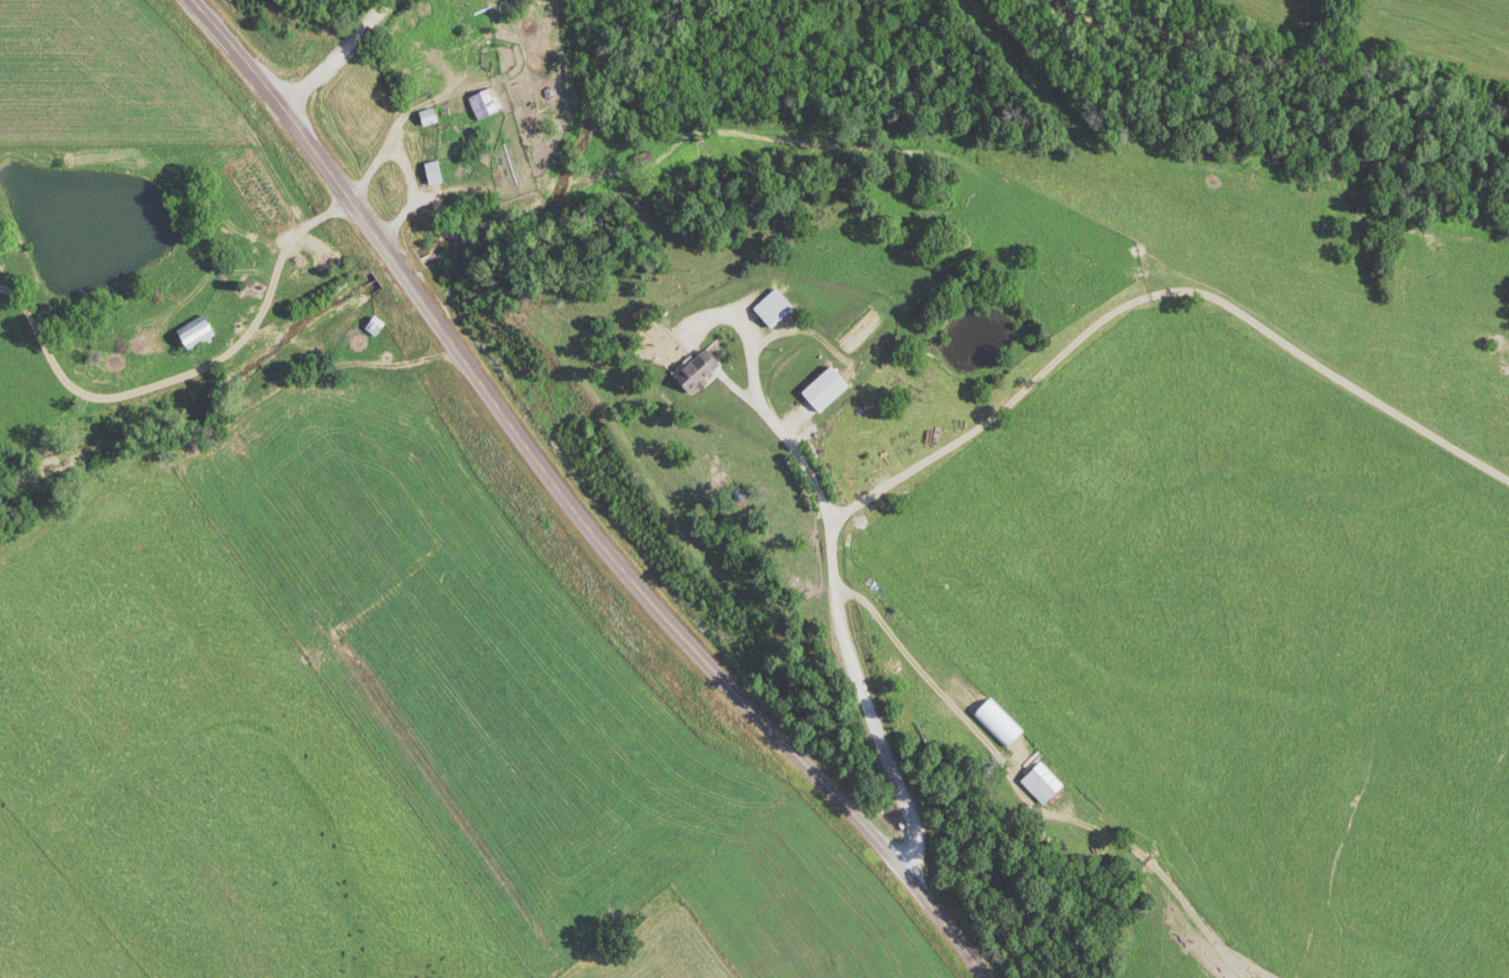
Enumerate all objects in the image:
road: (340, 56)
building: (487, 105)
building: (432, 118)
building: (445, 170)
road: (1160, 293)
building: (776, 309)
road: (262, 320)
building: (375, 329)
building: (200, 332)
building: (699, 370)
building: (828, 390)
road: (570, 504)
road: (842, 620)
building: (1044, 785)

